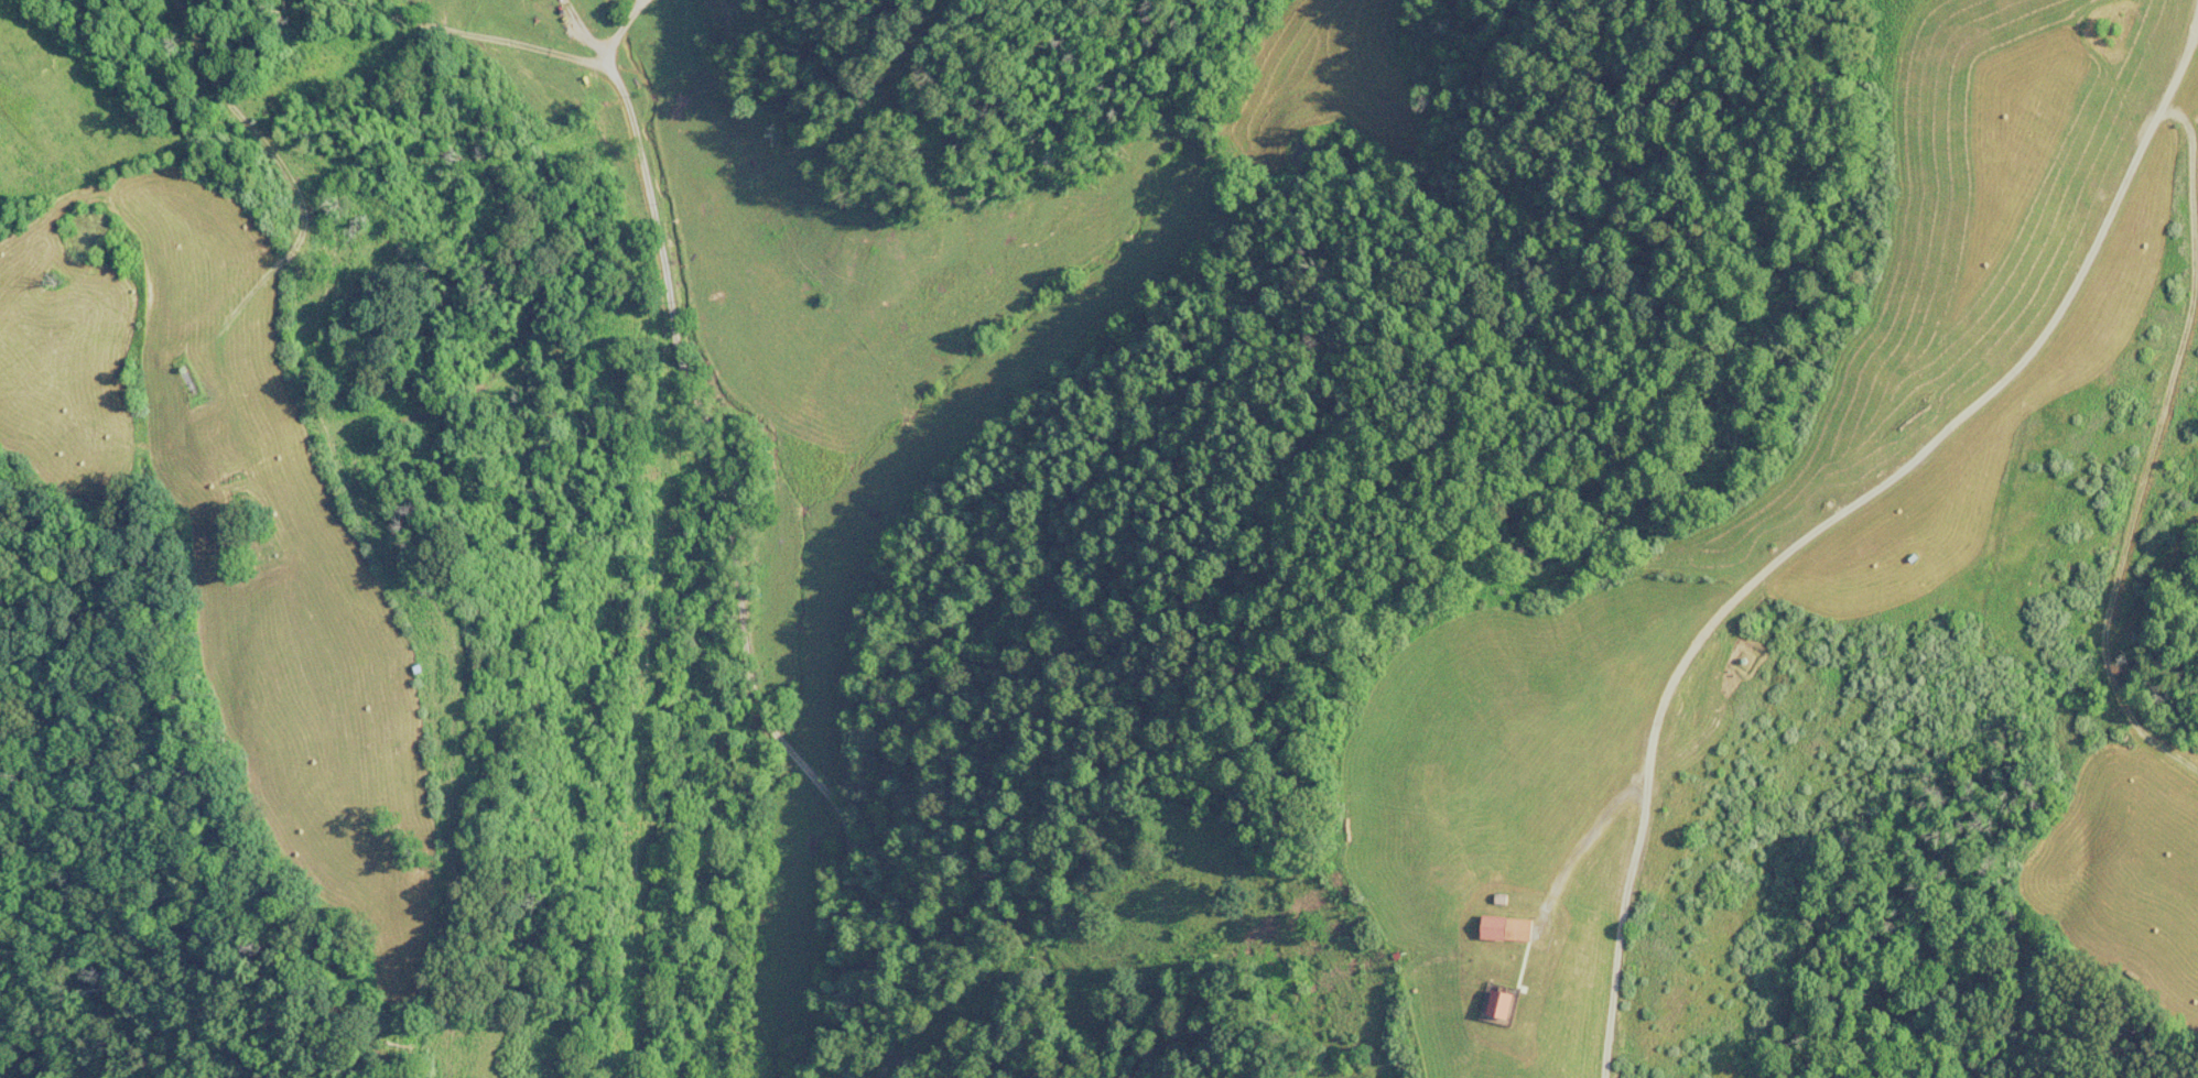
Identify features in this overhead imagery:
road: (2179, 55)
road: (650, 390)
road: (955, 437)
road: (2142, 451)
road: (1786, 546)
road: (1574, 851)
building: (1490, 928)
building: (1519, 929)
building: (1501, 1005)

